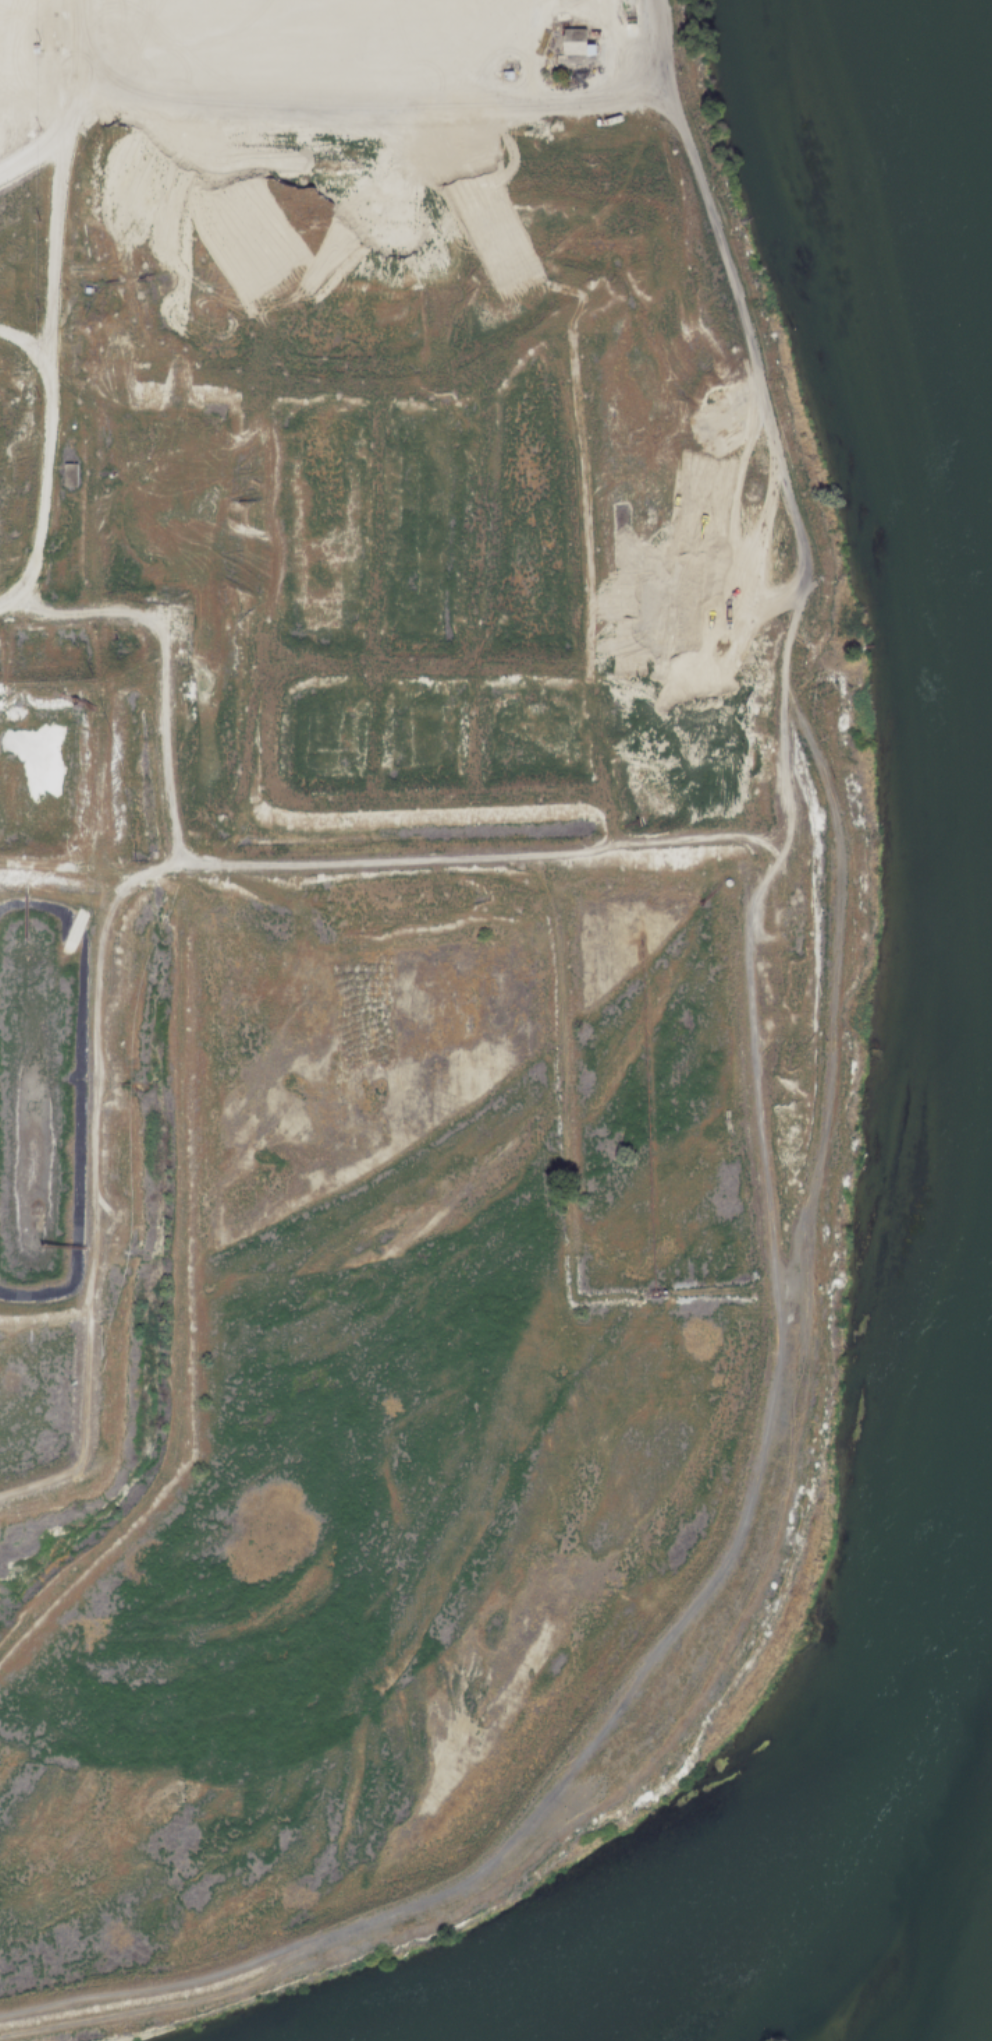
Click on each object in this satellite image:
building: (555, 15)
building: (626, 31)
building: (591, 35)
road: (528, 42)
building: (571, 42)
building: (503, 75)
road: (371, 95)
road: (30, 160)
river: (950, 162)
road: (46, 330)
road: (23, 343)
building: (68, 474)
road: (819, 1115)
river: (862, 1767)

